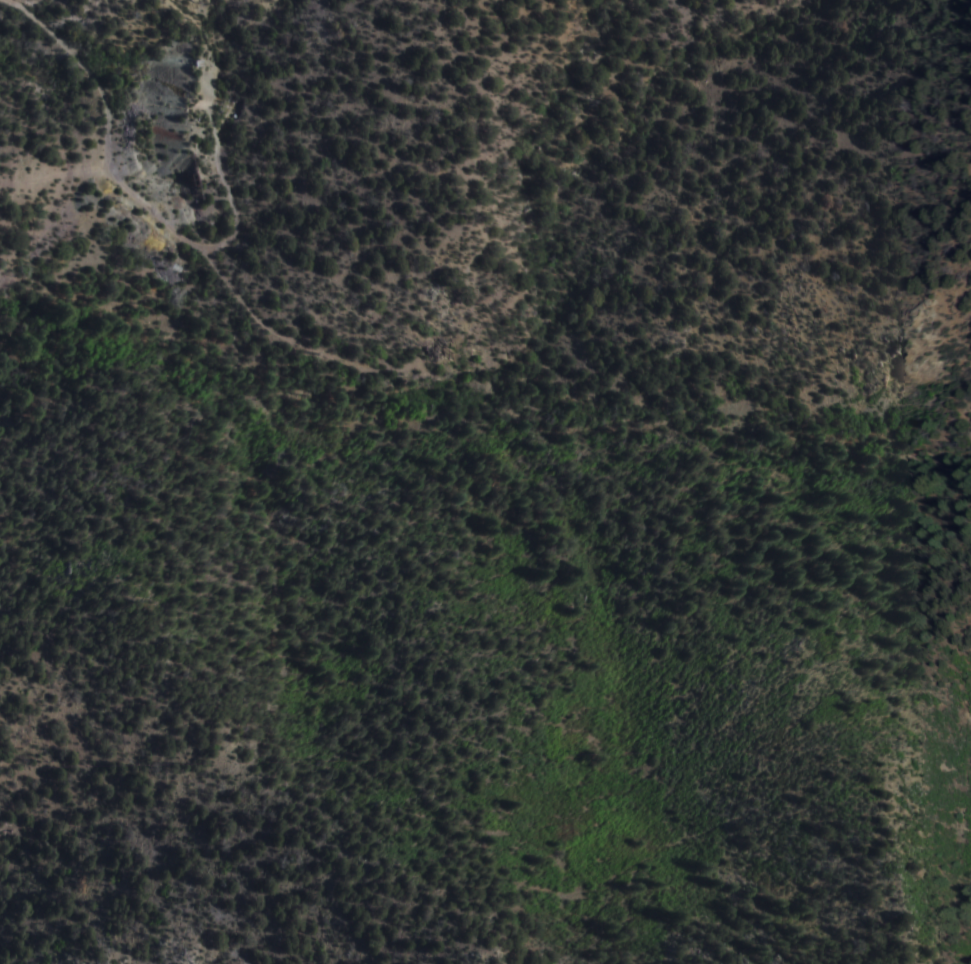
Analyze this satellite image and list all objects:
road: (155, 215)
road: (300, 349)

